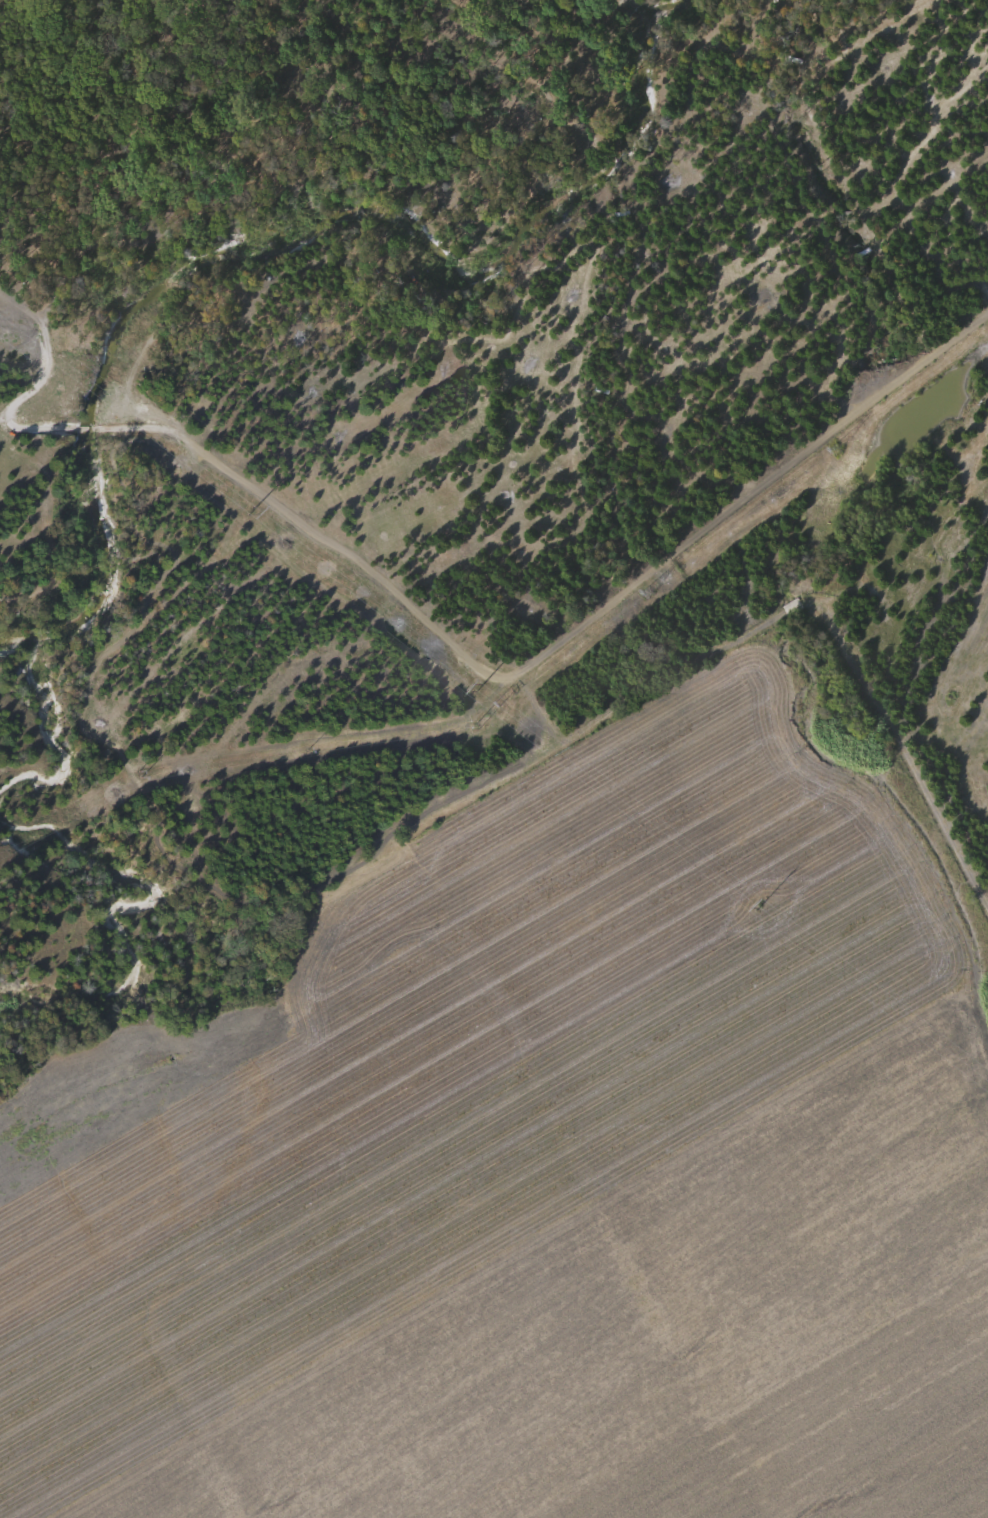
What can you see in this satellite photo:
road: (907, 752)

